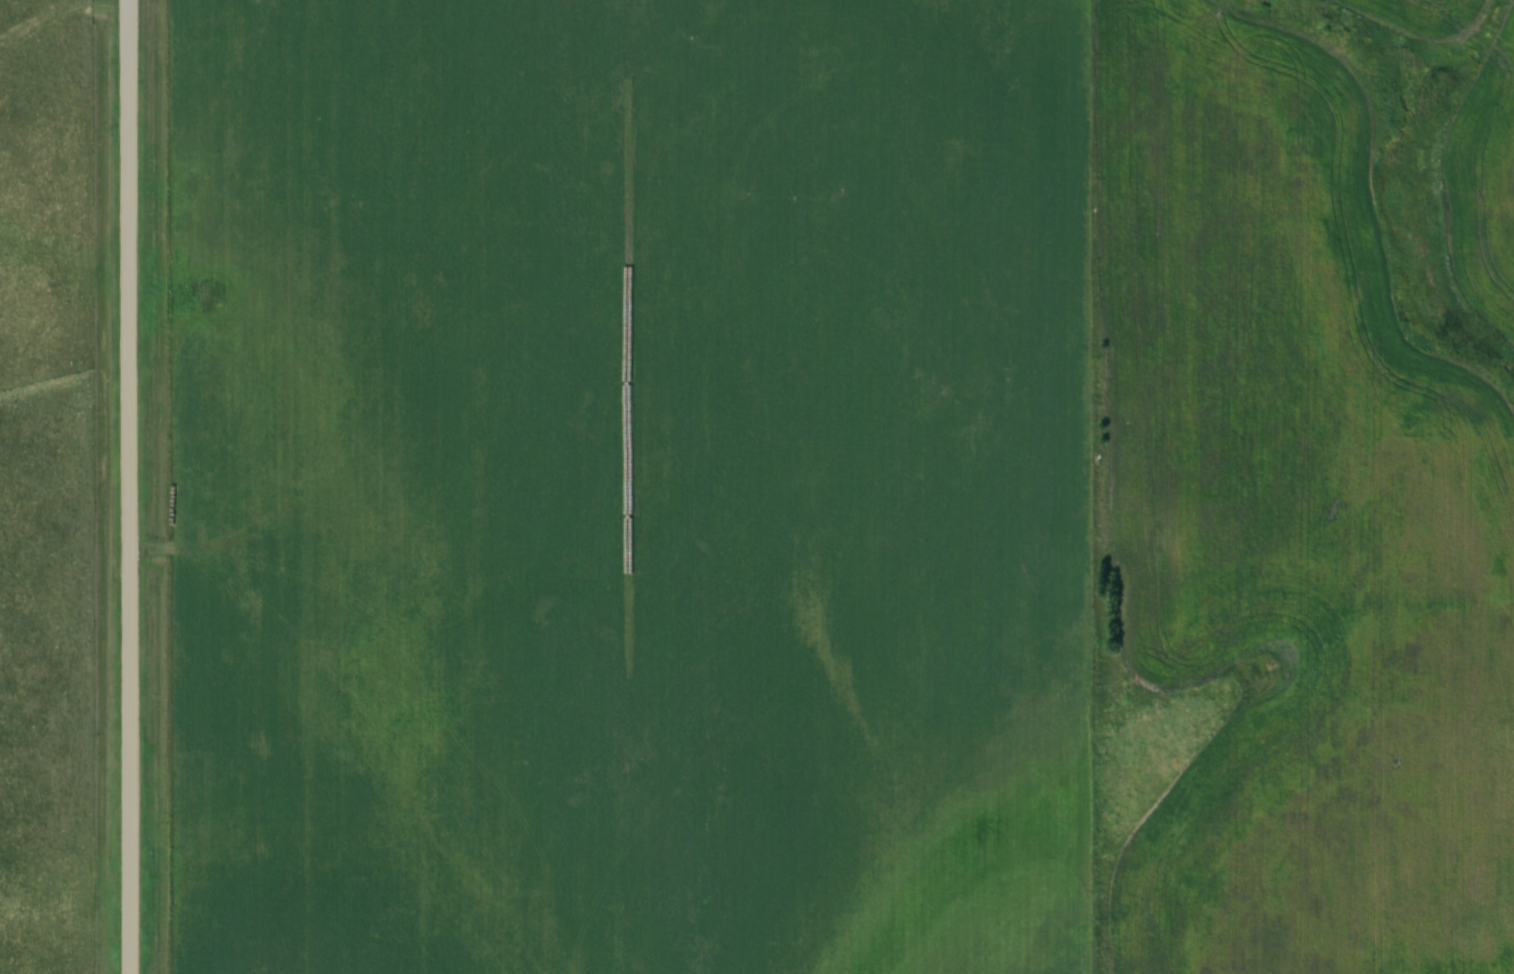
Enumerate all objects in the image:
road: (131, 487)

